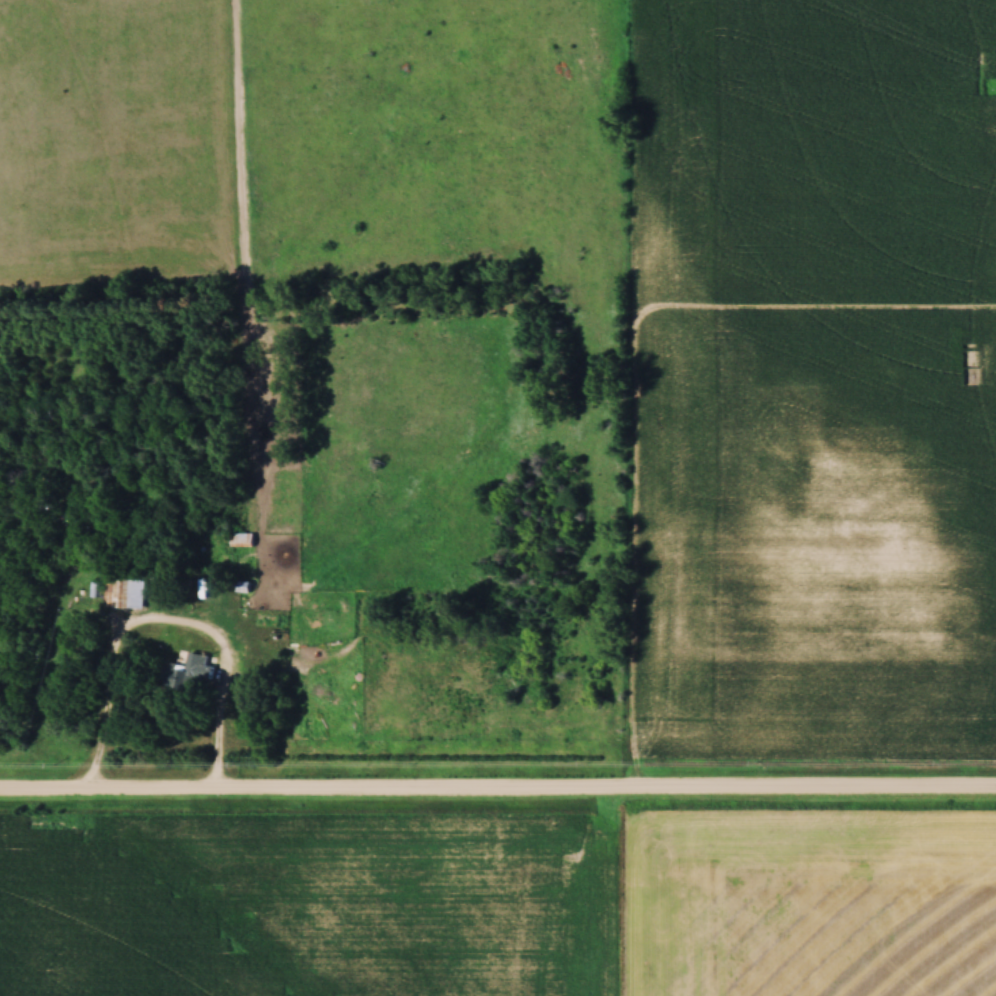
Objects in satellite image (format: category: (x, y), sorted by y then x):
building: (242, 542)
building: (124, 596)
road: (165, 622)
building: (184, 675)
road: (497, 790)

